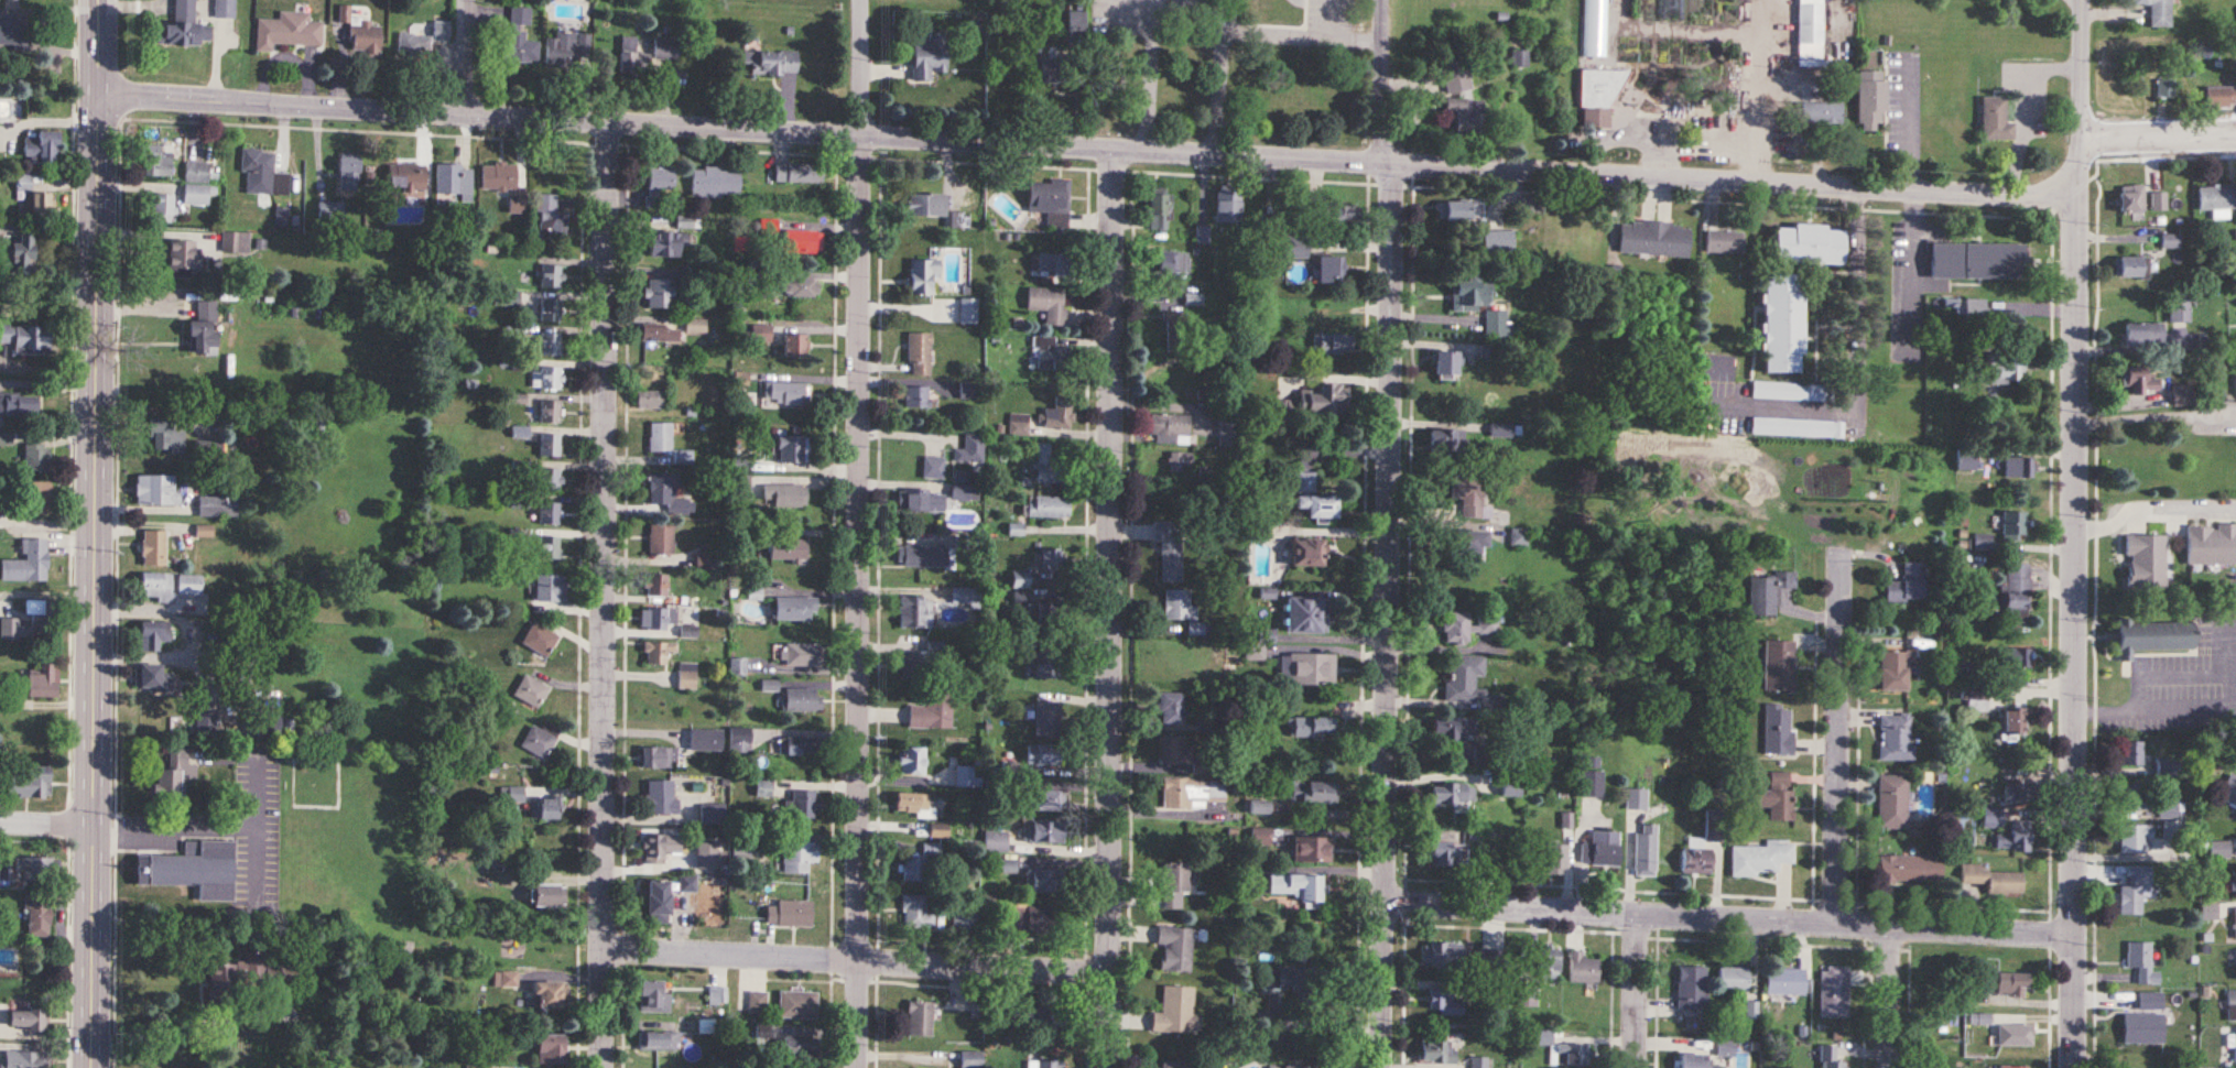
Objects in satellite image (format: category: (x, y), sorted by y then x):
building: (222, 8)
road: (1166, 8)
building: (2158, 12)
road: (1184, 13)
road: (1757, 19)
road: (1127, 21)
building: (1076, 22)
building: (182, 26)
building: (1595, 29)
building: (11, 30)
building: (1810, 30)
building: (286, 32)
road: (1674, 34)
building: (363, 37)
road: (1277, 37)
building: (423, 39)
building: (519, 39)
road: (1339, 40)
building: (566, 48)
building: (665, 48)
road: (467, 56)
building: (628, 56)
building: (927, 57)
building: (769, 63)
building: (1051, 67)
road: (2081, 69)
building: (1455, 77)
building: (2164, 87)
building: (2221, 96)
building: (1598, 98)
building: (1870, 100)
building: (1696, 106)
road: (1752, 108)
road: (2022, 109)
building: (1821, 113)
building: (1466, 116)
building: (1996, 119)
road: (1908, 126)
road: (742, 127)
road: (2158, 137)
road: (1625, 142)
building: (39, 146)
building: (154, 161)
road: (2078, 164)
building: (348, 172)
building: (262, 173)
building: (797, 174)
building: (405, 176)
road: (1732, 176)
building: (454, 181)
building: (22, 183)
building: (502, 183)
building: (715, 183)
building: (195, 184)
building: (661, 185)
building: (2217, 197)
building: (2131, 198)
building: (40, 201)
building: (2159, 201)
building: (1049, 204)
building: (924, 205)
building: (1227, 206)
building: (160, 208)
building: (330, 209)
building: (1160, 209)
building: (1462, 210)
building: (551, 215)
building: (1333, 215)
building: (687, 222)
building: (1202, 235)
building: (1654, 238)
building: (2170, 240)
building: (1724, 241)
building: (803, 242)
building: (664, 243)
building: (1497, 243)
building: (1808, 243)
building: (1295, 247)
building: (17, 254)
building: (177, 255)
building: (1978, 261)
building: (1053, 262)
building: (1172, 262)
building: (2128, 266)
road: (1913, 269)
building: (1331, 270)
building: (550, 275)
building: (922, 276)
building: (801, 287)
building: (659, 293)
building: (1468, 293)
building: (507, 298)
building: (1048, 304)
building: (2179, 308)
building: (550, 309)
building: (1782, 322)
building: (1496, 325)
building: (202, 329)
building: (1175, 331)
building: (761, 333)
building: (660, 334)
building: (2143, 334)
building: (25, 338)
building: (1331, 342)
building: (550, 344)
building: (793, 345)
building: (919, 353)
building: (1050, 355)
road: (1856, 361)
building: (1445, 363)
building: (2008, 369)
building: (546, 378)
building: (2139, 381)
building: (968, 391)
building: (784, 393)
building: (2181, 395)
building: (916, 396)
building: (650, 399)
building: (1323, 400)
building: (17, 403)
building: (549, 411)
building: (1060, 413)
road: (2158, 414)
building: (1018, 425)
building: (1171, 427)
building: (1501, 431)
building: (1230, 432)
building: (164, 436)
building: (6, 437)
building: (660, 437)
building: (1445, 439)
building: (550, 445)
building: (207, 448)
building: (791, 449)
building: (972, 449)
building: (36, 457)
building: (1181, 460)
building: (1966, 461)
building: (1048, 462)
building: (2018, 467)
building: (933, 468)
building: (550, 479)
building: (1305, 482)
building: (963, 489)
building: (155, 490)
building: (1468, 492)
building: (669, 494)
building: (785, 495)
building: (35, 498)
building: (921, 501)
building: (1317, 505)
building: (217, 506)
building: (1045, 508)
road: (2153, 512)
building: (549, 513)
building: (2015, 524)
road: (96, 533)
road: (1383, 533)
road: (860, 534)
building: (1518, 537)
building: (660, 540)
building: (1983, 544)
building: (2211, 544)
building: (549, 547)
building: (1468, 547)
building: (153, 548)
building: (786, 548)
building: (1170, 549)
building: (1306, 552)
building: (705, 559)
building: (1050, 560)
building: (2146, 560)
building: (26, 563)
building: (189, 585)
building: (655, 585)
building: (1908, 585)
building: (156, 587)
building: (550, 589)
building: (2016, 591)
building: (1771, 593)
road: (608, 595)
building: (960, 597)
road: (1114, 607)
building: (794, 609)
building: (915, 612)
building: (1184, 612)
building: (1305, 614)
building: (658, 618)
building: (1467, 626)
road: (2077, 628)
building: (688, 631)
building: (152, 634)
building: (2153, 636)
building: (540, 640)
road: (191, 644)
building: (658, 652)
building: (802, 654)
building: (2018, 657)
building: (1046, 663)
building: (737, 666)
building: (1780, 666)
building: (1307, 668)
building: (1896, 671)
road: (2174, 673)
building: (149, 676)
building: (687, 676)
building: (1463, 676)
building: (41, 682)
building: (531, 691)
road: (215, 696)
building: (801, 699)
building: (1171, 708)
road: (2199, 708)
building: (929, 712)
building: (1046, 719)
building: (2015, 720)
building: (196, 722)
building: (263, 724)
building: (1310, 726)
building: (1454, 728)
building: (1896, 737)
building: (540, 740)
building: (705, 740)
building: (739, 740)
building: (799, 745)
road: (1838, 746)
building: (1176, 751)
building: (2131, 753)
building: (1042, 754)
building: (659, 758)
building: (912, 760)
building: (2167, 767)
building: (965, 775)
building: (174, 776)
building: (26, 782)
building: (1592, 784)
building: (763, 788)
building: (1513, 789)
building: (2017, 791)
building: (2229, 791)
building: (1192, 792)
building: (1312, 792)
building: (512, 794)
building: (1453, 794)
building: (1778, 796)
building: (2134, 796)
building: (660, 797)
building: (1636, 798)
building: (1044, 800)
building: (1892, 802)
building: (911, 803)
building: (802, 804)
building: (550, 808)
building: (2168, 809)
building: (709, 815)
building: (1993, 817)
road: (48, 819)
building: (1714, 826)
building: (2170, 829)
building: (938, 830)
road: (181, 831)
building: (1043, 831)
building: (2015, 837)
building: (2136, 837)
building: (1260, 838)
building: (996, 841)
building: (654, 849)
building: (1600, 849)
building: (2219, 849)
building: (1311, 850)
building: (1646, 851)
building: (1444, 853)
building: (706, 856)
building: (800, 858)
building: (1555, 859)
building: (1761, 859)
building: (1696, 860)
building: (918, 863)
building: (1008, 867)
building: (36, 868)
building: (193, 869)
building: (1910, 869)
building: (1994, 880)
building: (1042, 881)
building: (687, 884)
building: (1175, 886)
building: (1295, 886)
building: (2135, 890)
building: (547, 895)
building: (656, 903)
building: (916, 912)
building: (2208, 912)
building: (789, 913)
road: (1729, 915)
building: (37, 916)
building: (965, 916)
building: (1031, 916)
building: (2235, 924)
building: (1175, 949)
building: (1444, 953)
road: (858, 959)
building: (2141, 962)
building: (1549, 963)
building: (1583, 968)
building: (229, 978)
building: (1278, 978)
building: (1734, 980)
building: (1785, 982)
building: (2010, 984)
building: (1692, 988)
road: (1637, 989)
building: (1834, 992)
road: (1891, 995)
building: (547, 996)
building: (652, 998)
building: (1966, 1000)
building: (2150, 1001)
building: (758, 1002)
building: (1444, 1003)
building: (797, 1004)
building: (2232, 1004)
building: (1176, 1012)
building: (920, 1018)
building: (1980, 1018)
building: (26, 1020)
building: (1045, 1023)
road: (185, 1026)
building: (2142, 1027)
building: (2015, 1035)
building: (659, 1042)
building: (2235, 1045)
building: (799, 1047)
building: (1726, 1048)
building: (550, 1049)
building: (1437, 1051)
building: (1572, 1054)
building: (1830, 1058)
building: (22, 1059)
building: (970, 1059)
building: (1695, 1060)
building: (1478, 1062)
building: (1050, 1064)
building: (1176, 1065)
building: (478, 1066)
building: (1291, 1067)
building: (1941, 1067)
building: (2012, 1067)

